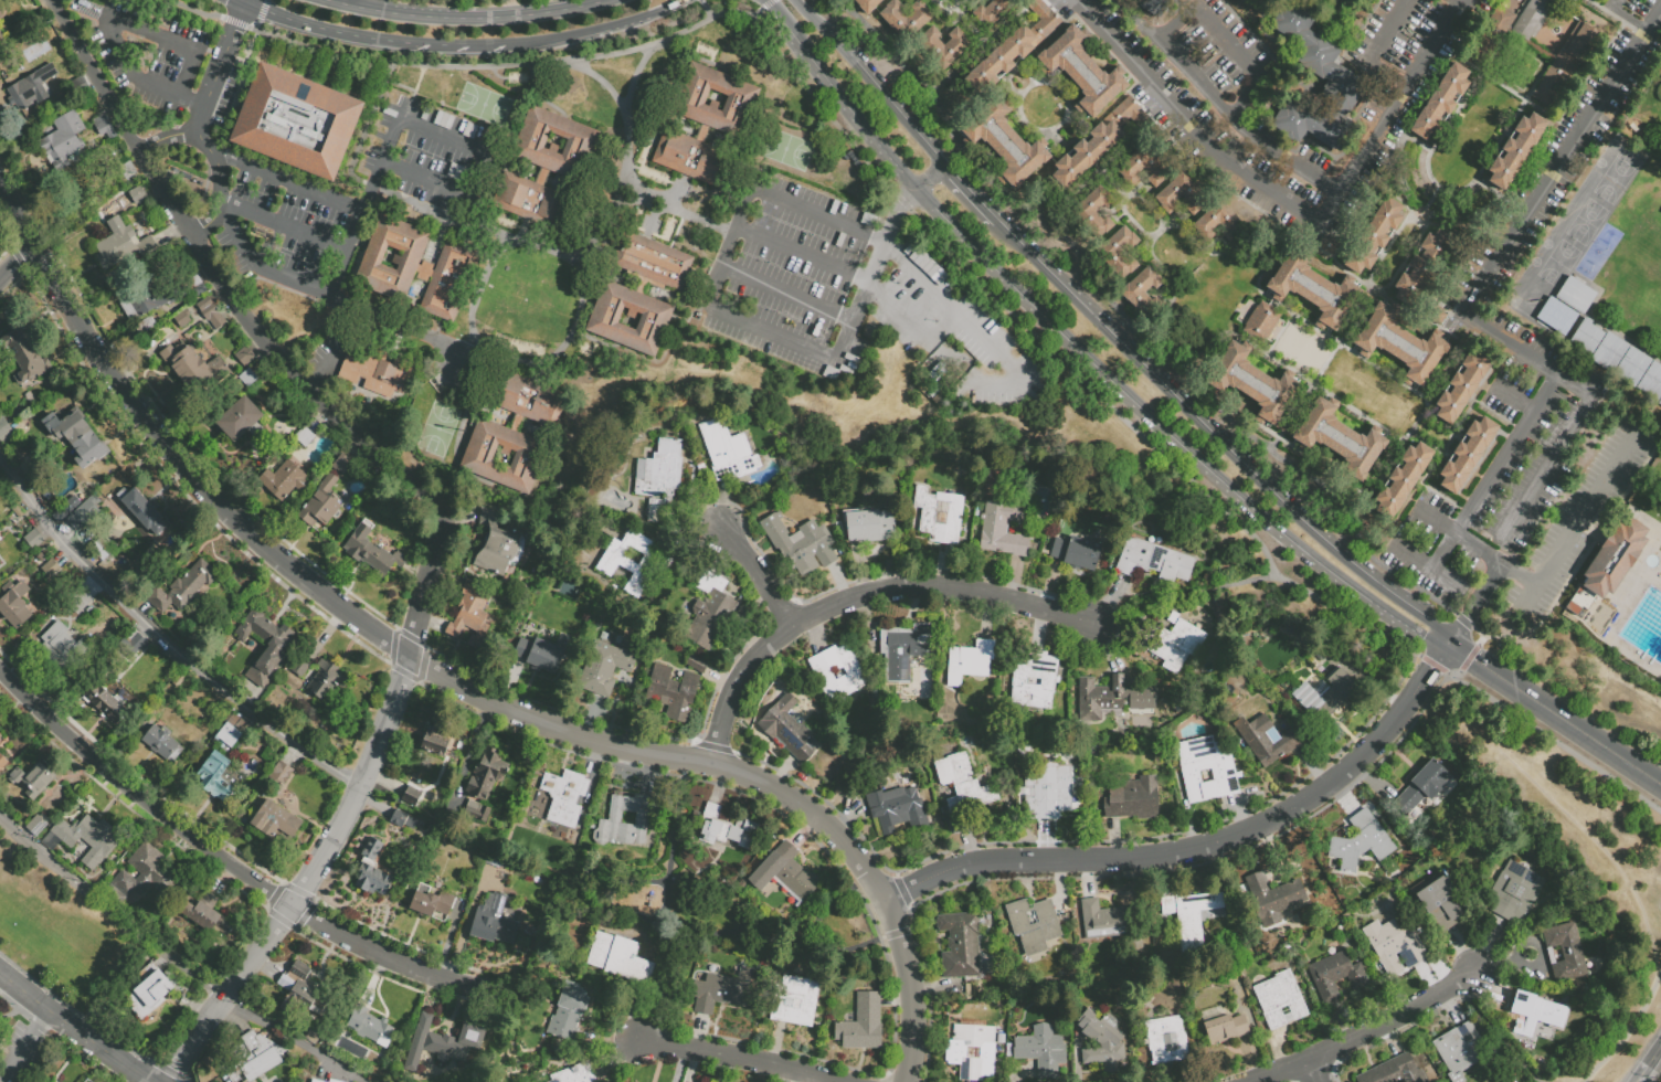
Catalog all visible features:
building: (1342, 1)
road: (766, 2)
building: (1512, 2)
road: (772, 3)
road: (368, 4)
building: (866, 4)
road: (1454, 4)
building: (1155, 6)
road: (667, 7)
road: (193, 9)
road: (705, 9)
road: (261, 10)
road: (758, 11)
building: (990, 11)
road: (1606, 11)
road: (1019, 12)
road: (1569, 12)
road: (808, 14)
road: (467, 17)
building: (903, 17)
building: (1533, 18)
road: (1626, 18)
road: (234, 21)
road: (109, 22)
road: (1654, 23)
road: (256, 25)
road: (327, 29)
road: (1634, 29)
fountain: (1555, 30)
building: (1491, 34)
road: (561, 35)
road: (1555, 38)
building: (2, 40)
road: (990, 41)
road: (1506, 42)
road: (442, 43)
building: (941, 44)
road: (1226, 44)
building: (1012, 46)
road: (1377, 52)
parking lot: (150, 53)
road: (1460, 61)
building: (1563, 64)
road: (962, 65)
building: (1079, 70)
building: (1327, 71)
road: (1591, 72)
road: (1478, 77)
road: (602, 79)
building: (81, 87)
road: (1503, 87)
building: (32, 88)
road: (1067, 97)
road: (881, 98)
building: (1439, 102)
park: (486, 105)
road: (1520, 107)
road: (1219, 108)
road: (1542, 112)
road: (1147, 113)
road: (1395, 114)
road: (628, 115)
building: (295, 119)
building: (708, 123)
road: (1189, 123)
road: (194, 125)
parking lot: (1193, 126)
road: (420, 127)
building: (104, 128)
road: (162, 137)
building: (63, 141)
building: (1097, 141)
building: (1001, 142)
road: (1415, 142)
park: (785, 149)
building: (1515, 149)
building: (546, 153)
building: (1142, 168)
building: (126, 171)
road: (1556, 172)
road: (882, 178)
road: (928, 179)
road: (286, 182)
road: (1437, 185)
road: (1485, 189)
road: (999, 190)
building: (1179, 194)
building: (138, 195)
road: (965, 198)
road: (1428, 202)
road: (1514, 206)
road: (1123, 208)
road: (685, 210)
building: (1093, 212)
road: (1416, 216)
parking lot: (288, 219)
building: (1218, 223)
road: (283, 225)
road: (1276, 231)
building: (1373, 236)
road: (1154, 237)
road: (1294, 237)
parking lot: (795, 244)
road: (1388, 244)
building: (1327, 245)
building: (123, 246)
road: (1191, 248)
road: (896, 252)
building: (1118, 252)
road: (569, 253)
road: (203, 258)
road: (1401, 258)
road: (14, 261)
building: (417, 263)
building: (1420, 266)
road: (261, 268)
road: (871, 273)
road: (853, 279)
building: (1313, 289)
road: (475, 291)
building: (1142, 293)
building: (642, 294)
road: (787, 294)
building: (1574, 294)
road: (1367, 297)
building: (158, 300)
road: (712, 308)
building: (211, 314)
building: (1435, 315)
building: (1555, 315)
building: (182, 317)
building: (1259, 320)
road: (401, 327)
building: (1554, 333)
park: (1291, 340)
building: (1588, 341)
building: (1399, 343)
road: (1340, 344)
building: (27, 353)
park: (1312, 353)
building: (1610, 354)
road: (1086, 357)
building: (192, 368)
building: (1633, 369)
road: (1291, 370)
building: (378, 373)
parking lot: (1535, 379)
building: (1251, 382)
building: (1461, 385)
building: (1652, 385)
road: (1516, 401)
building: (239, 420)
building: (515, 432)
building: (6, 434)
building: (77, 438)
building: (304, 438)
building: (1340, 439)
road: (1214, 442)
road: (1263, 447)
road: (1559, 448)
building: (728, 453)
building: (1467, 454)
building: (343, 468)
building: (700, 468)
road: (1496, 469)
building: (658, 479)
building: (1401, 479)
building: (31, 484)
building: (286, 484)
road: (1364, 503)
building: (322, 505)
building: (136, 509)
building: (66, 510)
building: (15, 511)
building: (83, 515)
building: (940, 517)
road: (1576, 523)
building: (868, 526)
building: (1002, 530)
road: (1453, 535)
park: (81, 538)
building: (33, 540)
building: (498, 543)
building: (798, 543)
building: (102, 550)
building: (373, 554)
building: (1077, 554)
building: (1615, 560)
building: (630, 561)
building: (1153, 561)
road: (1425, 567)
building: (51, 570)
road: (758, 572)
road: (1519, 575)
building: (191, 585)
building: (1580, 591)
road: (859, 593)
road: (1185, 600)
building: (80, 603)
building: (14, 606)
building: (1574, 609)
building: (710, 613)
building: (470, 616)
building: (1175, 617)
road: (162, 640)
building: (131, 643)
building: (1174, 645)
building: (62, 648)
building: (275, 650)
building: (903, 651)
building: (540, 656)
building: (695, 662)
building: (605, 664)
road: (1436, 666)
building: (967, 667)
building: (298, 668)
building: (838, 675)
building: (179, 681)
building: (1034, 681)
building: (327, 682)
road: (459, 682)
building: (673, 692)
building: (1325, 697)
building: (1101, 698)
building: (106, 704)
road: (1556, 712)
building: (787, 729)
building: (1, 733)
building: (231, 735)
building: (1267, 741)
building: (434, 742)
road: (1556, 743)
building: (162, 744)
road: (469, 746)
building: (1, 761)
building: (1207, 771)
building: (281, 775)
building: (487, 775)
building: (219, 778)
building: (33, 781)
building: (965, 788)
building: (1422, 788)
road: (355, 792)
building: (1048, 792)
building: (564, 797)
building: (411, 798)
building: (1133, 800)
building: (892, 808)
building: (477, 811)
road: (1565, 813)
building: (276, 821)
building: (402, 821)
building: (625, 821)
building: (36, 826)
building: (1344, 828)
building: (721, 830)
building: (83, 840)
building: (1361, 844)
road: (1205, 847)
road: (677, 855)
road: (219, 856)
building: (494, 859)
building: (371, 872)
building: (790, 873)
building: (147, 874)
building: (1514, 893)
building: (1273, 898)
building: (431, 903)
building: (1441, 903)
road: (837, 906)
road: (110, 908)
building: (207, 916)
building: (1189, 916)
building: (494, 923)
building: (1034, 925)
building: (1112, 925)
road: (738, 927)
building: (1426, 941)
building: (960, 946)
building: (1396, 946)
building: (1432, 948)
building: (1565, 954)
building: (620, 959)
building: (1336, 977)
building: (148, 993)
building: (720, 993)
building: (301, 997)
building: (1280, 1001)
building: (795, 1003)
building: (1535, 1016)
building: (568, 1017)
building: (861, 1025)
building: (369, 1027)
road: (74, 1030)
building: (1225, 1030)
building: (1481, 1031)
road: (1629, 1031)
road: (1504, 1033)
road: (1365, 1035)
road: (292, 1041)
building: (1166, 1041)
building: (1102, 1042)
road: (24, 1044)
building: (441, 1046)
building: (1460, 1051)
building: (561, 1052)
building: (1041, 1052)
building: (972, 1053)
road: (733, 1056)
building: (254, 1059)
road: (1651, 1067)
road: (1316, 1071)
building: (1394, 1072)
building: (575, 1074)
building: (313, 1081)
building: (330, 1081)

